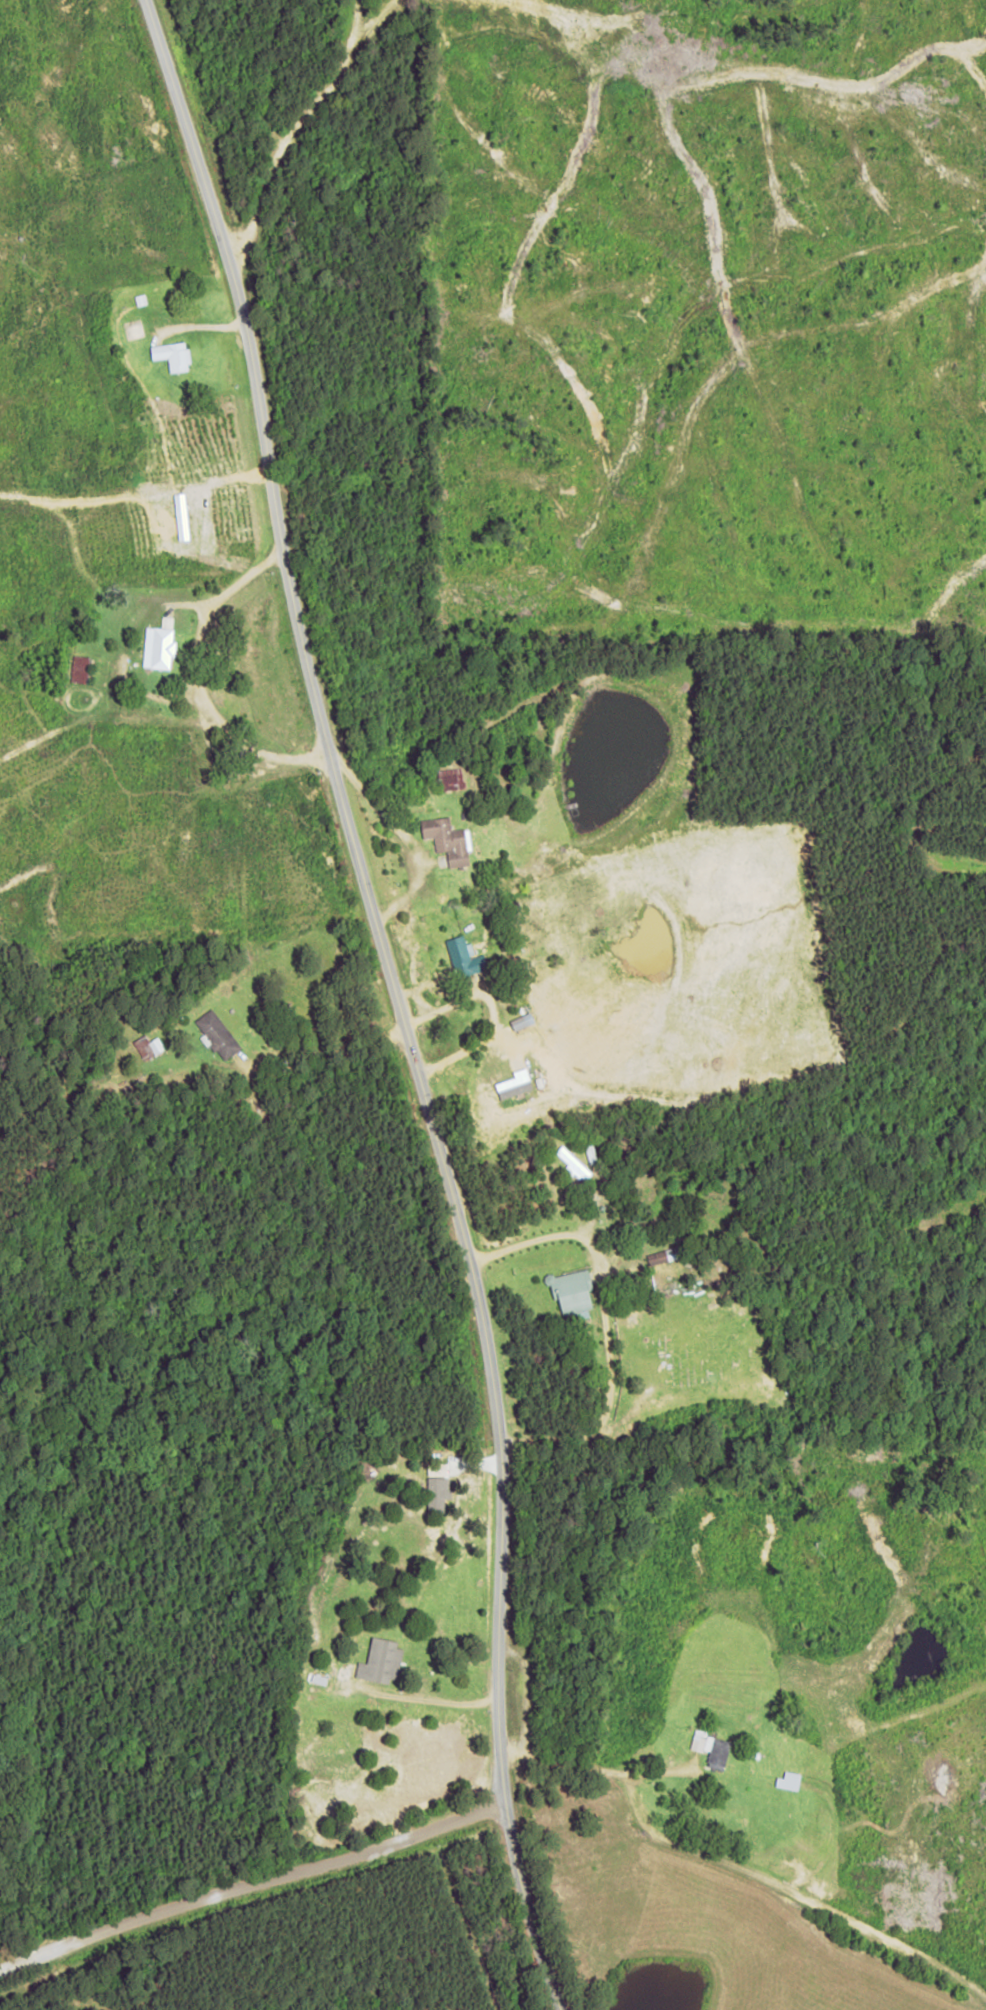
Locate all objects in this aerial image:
building: (172, 355)
building: (158, 644)
building: (79, 669)
building: (451, 781)
building: (447, 840)
building: (463, 957)
road: (395, 998)
building: (521, 1028)
building: (217, 1034)
building: (148, 1047)
building: (573, 1165)
building: (658, 1257)
building: (570, 1291)
building: (380, 1660)
building: (711, 1749)
building: (788, 1780)
road: (735, 1867)
road: (247, 1881)

